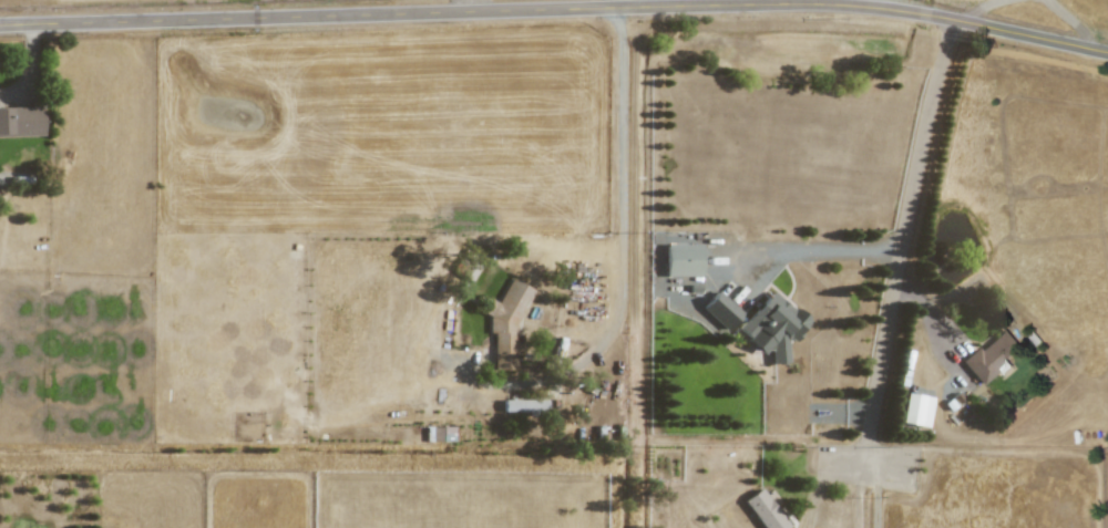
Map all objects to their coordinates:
road: (654, 3)
road: (466, 6)
road: (979, 8)
road: (556, 10)
road: (1071, 21)
building: (20, 121)
road: (624, 183)
road: (815, 250)
building: (681, 259)
building: (470, 265)
road: (893, 281)
building: (720, 310)
building: (506, 322)
building: (772, 327)
building: (991, 356)
building: (523, 405)
road: (878, 495)
building: (763, 509)

